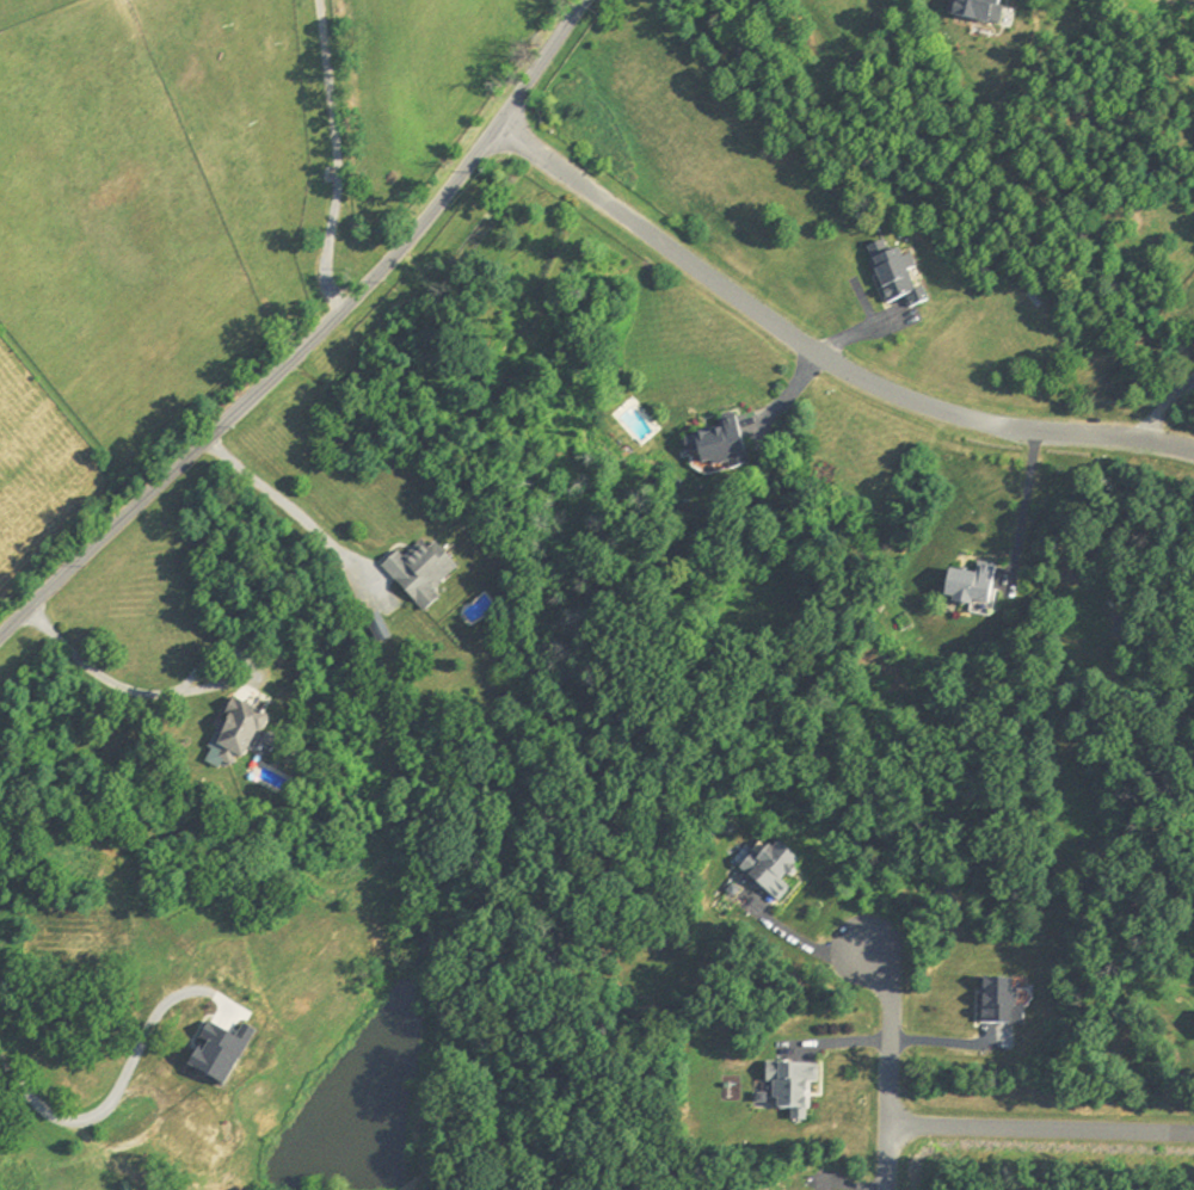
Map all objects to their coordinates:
road: (332, 162)
building: (893, 273)
road: (314, 339)
road: (816, 352)
road: (1164, 406)
building: (715, 446)
road: (283, 504)
road: (1026, 504)
building: (418, 572)
building: (970, 584)
road: (187, 691)
building: (232, 738)
building: (768, 870)
road: (799, 939)
building: (222, 955)
building: (998, 1004)
road: (949, 1042)
road: (888, 1056)
road: (121, 1079)
building: (793, 1091)
building: (192, 1128)
road: (1040, 1128)

